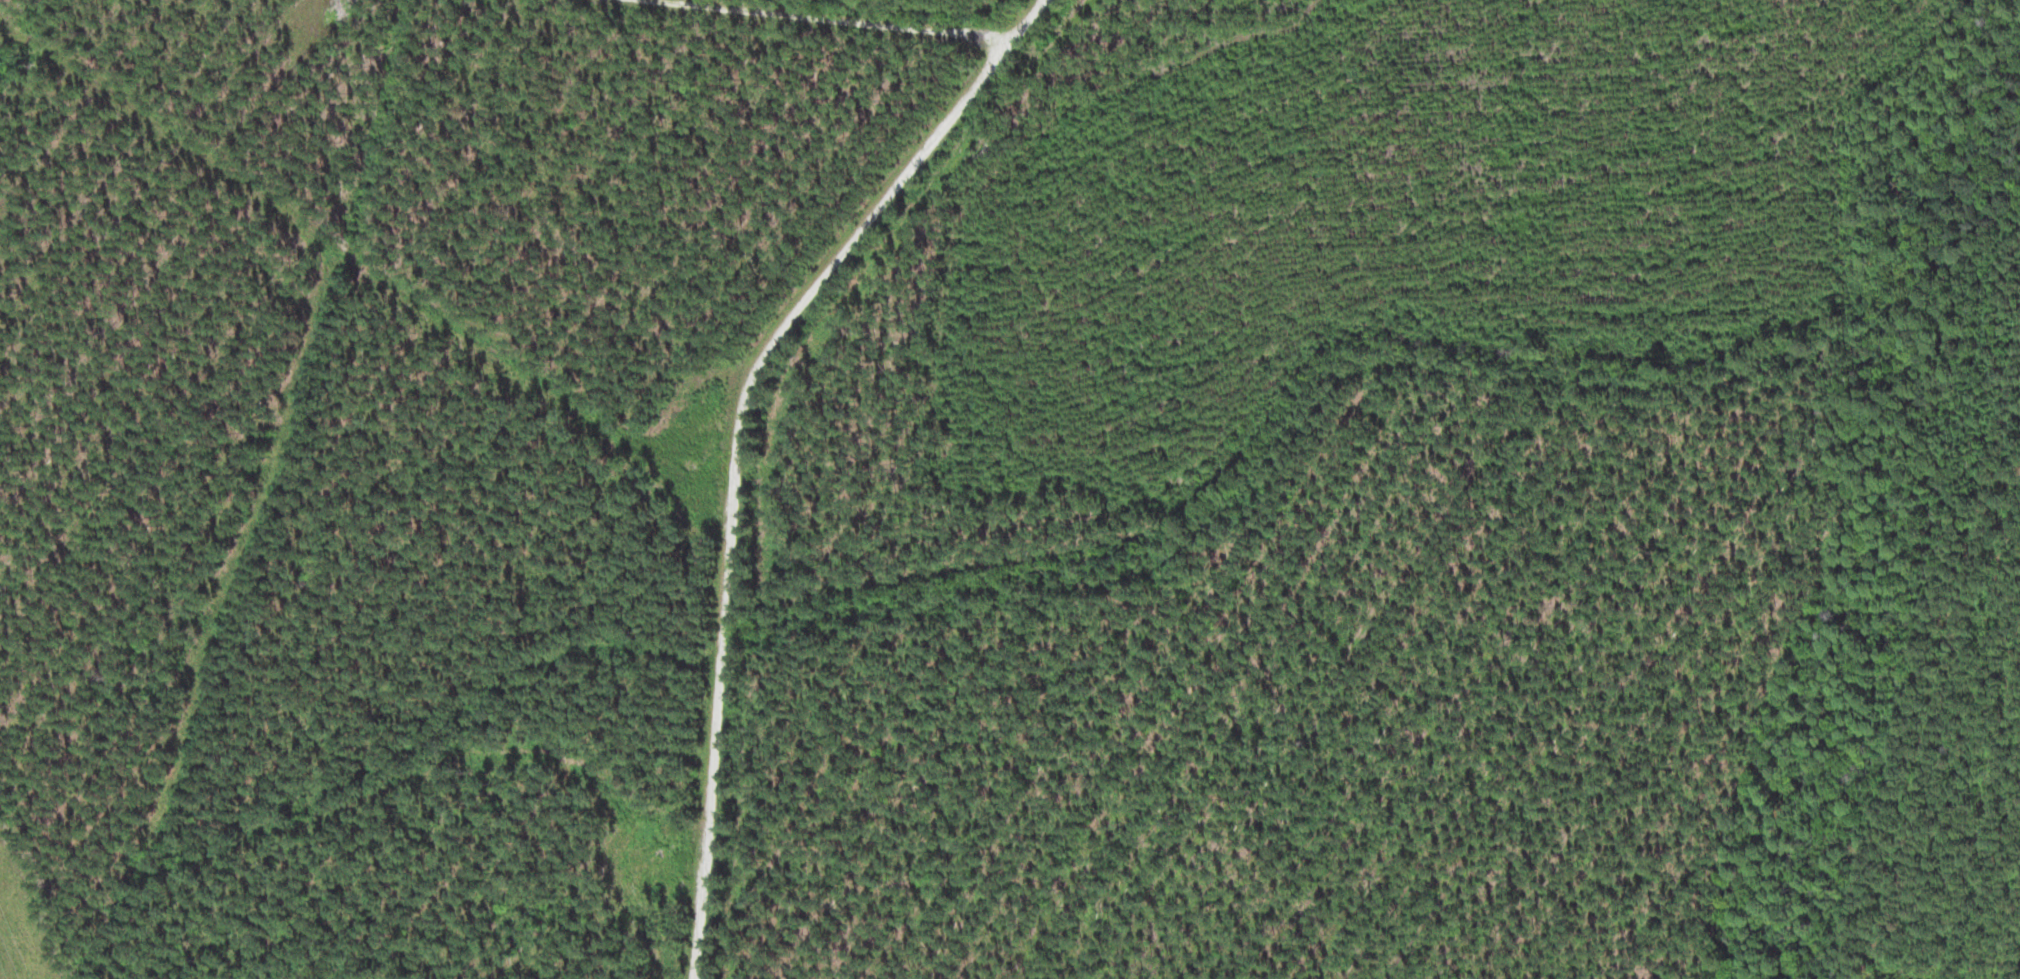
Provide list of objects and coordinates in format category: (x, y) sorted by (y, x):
road: (779, 24)
road: (755, 442)

